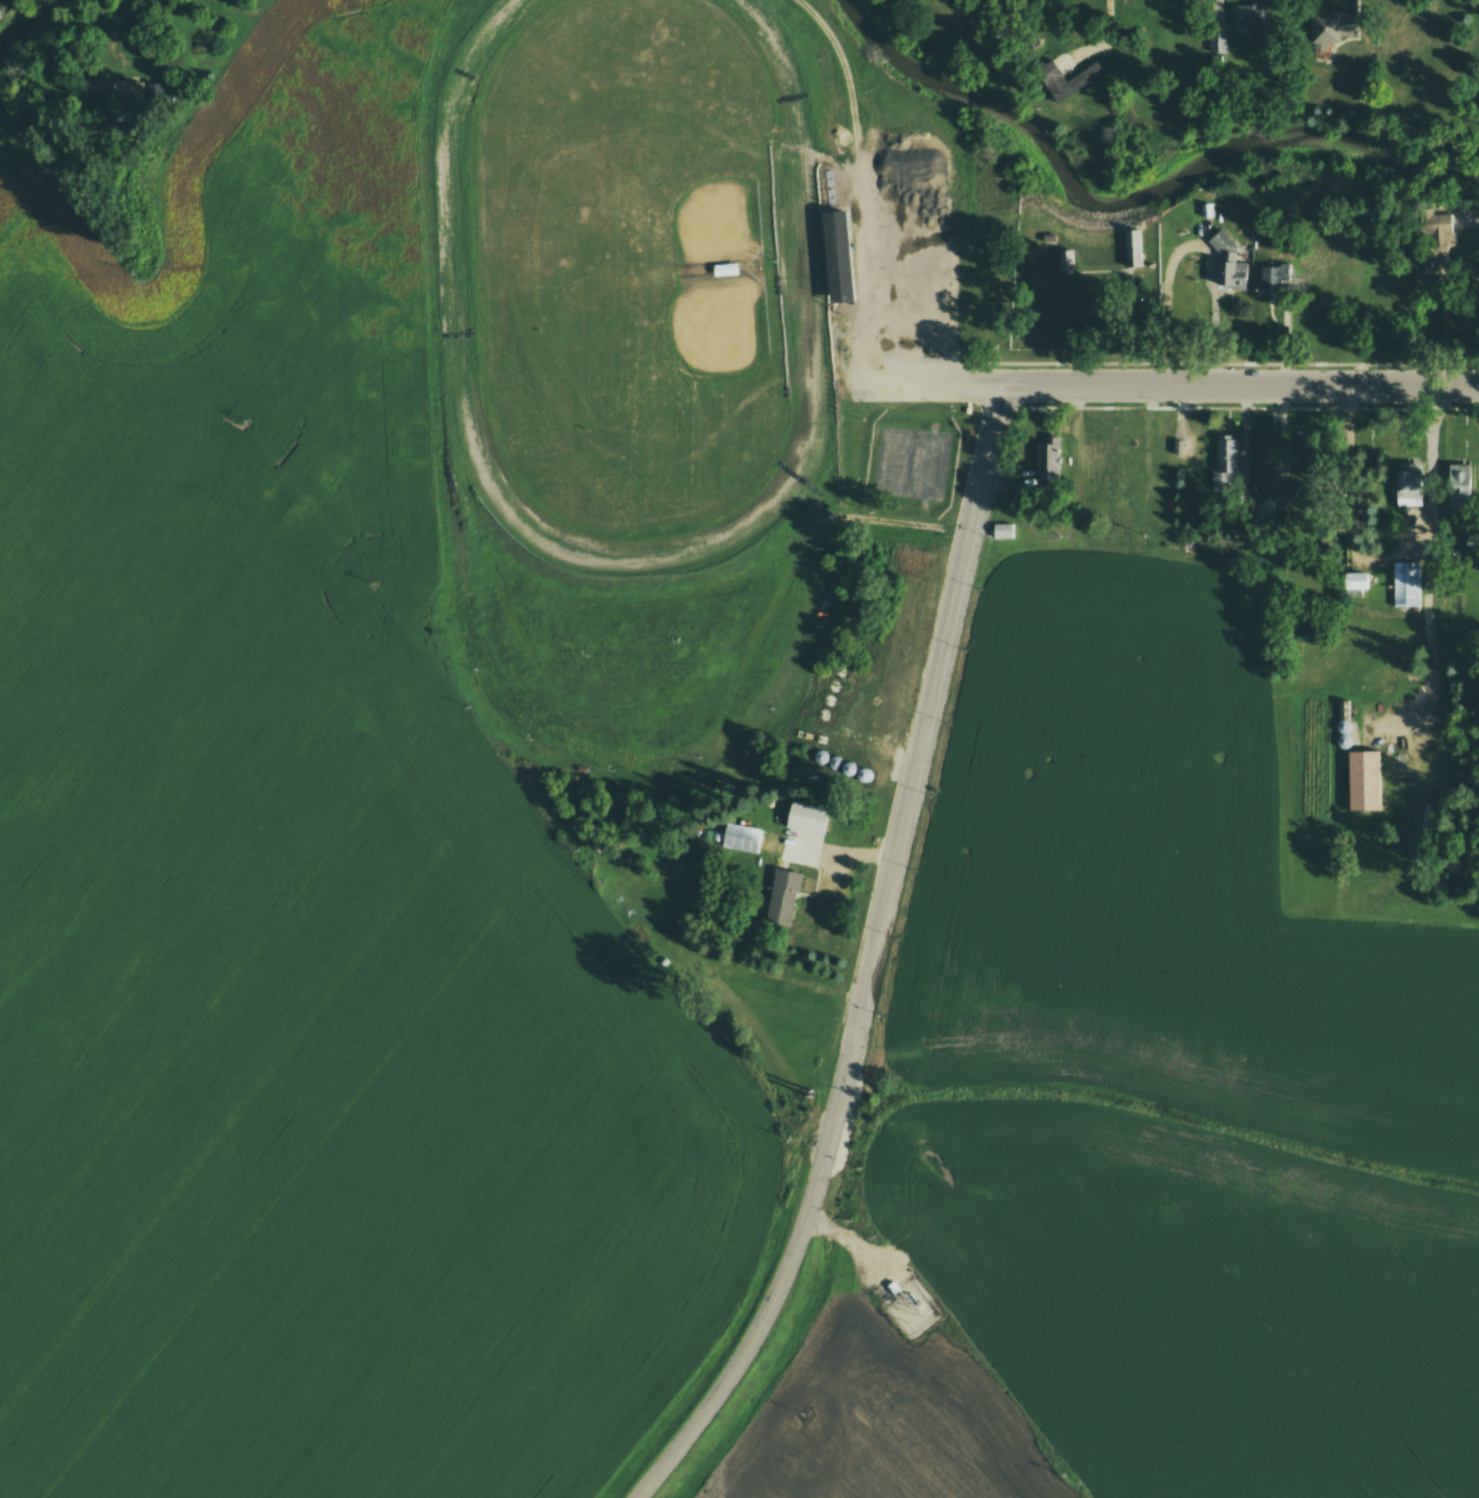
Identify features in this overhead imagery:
building: (1251, 14)
building: (1331, 25)
road: (114, 30)
river: (39, 36)
building: (1216, 39)
building: (1066, 78)
park: (656, 178)
road: (859, 183)
river: (1134, 193)
road: (766, 208)
building: (1205, 208)
building: (1430, 222)
road: (938, 235)
building: (1047, 238)
parking lot: (909, 241)
building: (1130, 249)
building: (838, 255)
building: (1063, 258)
building: (1228, 259)
building: (1429, 260)
road: (755, 264)
building: (725, 268)
track: (633, 271)
building: (1035, 277)
park: (1084, 278)
building: (1271, 278)
road: (1132, 280)
building: (970, 284)
building: (1001, 304)
park: (629, 358)
road: (1174, 361)
park: (674, 370)
road: (935, 384)
road: (1239, 386)
road: (1237, 405)
building: (1045, 458)
building: (1268, 462)
park: (910, 463)
building: (1226, 465)
building: (1459, 481)
building: (1407, 486)
building: (1004, 532)
building: (1356, 579)
building: (1405, 584)
building: (1344, 725)
silo: (1344, 725)
building: (1343, 741)
silo: (1343, 741)
road: (918, 743)
building: (820, 756)
silo: (820, 756)
building: (835, 761)
silo: (835, 761)
building: (850, 767)
silo: (850, 767)
building: (864, 773)
silo: (864, 773)
building: (1364, 779)
building: (807, 817)
building: (740, 836)
crop: (295, 879)
building: (783, 895)
power substation: (910, 1303)
road: (764, 1313)

